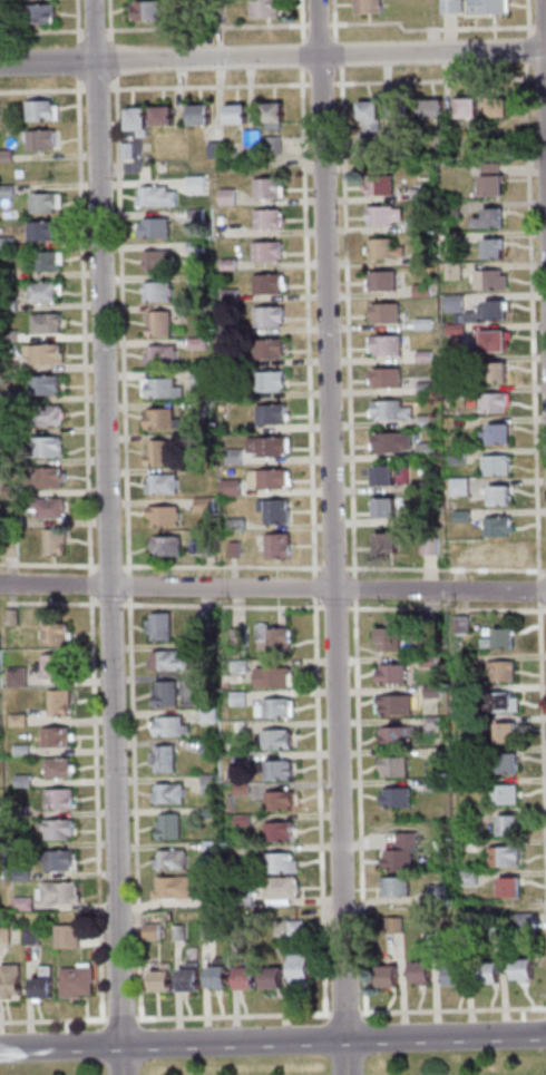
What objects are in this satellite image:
building: (1, 1)
building: (449, 6)
building: (368, 7)
building: (486, 7)
building: (262, 9)
building: (143, 10)
building: (38, 13)
building: (189, 14)
road: (299, 20)
road: (331, 20)
road: (72, 21)
road: (315, 25)
road: (203, 27)
road: (431, 28)
road: (40, 31)
road: (90, 31)
road: (300, 53)
road: (334, 53)
road: (272, 56)
road: (74, 59)
road: (113, 69)
road: (544, 70)
road: (339, 75)
road: (319, 84)
road: (334, 84)
road: (206, 86)
road: (40, 89)
road: (94, 89)
building: (465, 107)
building: (495, 107)
building: (430, 108)
building: (397, 109)
building: (39, 111)
building: (196, 114)
building: (233, 114)
building: (270, 115)
building: (369, 115)
building: (158, 116)
building: (134, 120)
building: (250, 137)
building: (36, 139)
building: (270, 145)
building: (389, 148)
building: (124, 150)
building: (213, 150)
building: (4, 156)
building: (489, 179)
building: (193, 184)
building: (379, 184)
building: (263, 187)
building: (6, 190)
building: (154, 196)
building: (224, 197)
building: (43, 202)
building: (448, 208)
building: (193, 213)
building: (384, 215)
building: (218, 218)
building: (264, 218)
building: (487, 218)
building: (150, 228)
building: (39, 231)
building: (6, 243)
building: (193, 246)
building: (384, 248)
building: (490, 248)
building: (264, 251)
building: (154, 260)
building: (43, 261)
building: (225, 264)
building: (450, 271)
building: (6, 274)
building: (193, 280)
building: (381, 280)
building: (487, 280)
building: (264, 284)
building: (42, 292)
building: (154, 292)
building: (226, 295)
building: (451, 303)
building: (7, 305)
building: (384, 312)
building: (482, 312)
building: (194, 314)
building: (265, 316)
building: (43, 323)
building: (156, 323)
road: (304, 323)
road: (80, 324)
road: (118, 326)
building: (227, 328)
building: (454, 330)
building: (7, 336)
building: (488, 341)
building: (194, 343)
building: (384, 344)
building: (266, 349)
building: (41, 353)
building: (157, 355)
building: (228, 360)
building: (8, 368)
building: (494, 372)
building: (384, 377)
building: (198, 379)
building: (267, 381)
building: (42, 384)
building: (157, 389)
building: (454, 391)
building: (3, 400)
building: (490, 402)
building: (201, 409)
building: (220, 409)
building: (389, 409)
building: (267, 414)
building: (46, 416)
building: (158, 420)
building: (7, 429)
building: (491, 434)
building: (391, 441)
building: (265, 446)
building: (42, 447)
building: (155, 453)
building: (231, 456)
building: (455, 456)
building: (8, 461)
building: (493, 465)
building: (383, 475)
building: (47, 477)
building: (265, 479)
building: (158, 483)
building: (456, 486)
building: (228, 487)
building: (8, 490)
building: (496, 496)
building: (202, 505)
building: (387, 506)
building: (46, 508)
building: (271, 510)
building: (162, 516)
building: (459, 516)
building: (9, 521)
building: (232, 524)
building: (495, 526)
road: (106, 537)
road: (330, 537)
building: (51, 541)
building: (387, 543)
building: (163, 546)
building: (274, 546)
building: (426, 546)
building: (8, 548)
building: (205, 548)
building: (231, 549)
building: (498, 554)
road: (47, 565)
road: (218, 566)
road: (106, 567)
road: (324, 568)
road: (87, 585)
road: (125, 586)
road: (273, 587)
road: (311, 587)
road: (1, 603)
road: (49, 604)
road: (107, 604)
road: (220, 606)
road: (326, 607)
building: (10, 618)
building: (203, 619)
building: (458, 625)
building: (156, 626)
building: (51, 634)
building: (387, 635)
building: (428, 635)
building: (235, 637)
building: (271, 638)
building: (497, 639)
building: (203, 647)
building: (165, 661)
building: (425, 661)
building: (460, 661)
building: (236, 665)
building: (51, 666)
building: (498, 671)
building: (389, 674)
building: (14, 677)
building: (269, 678)
building: (429, 692)
building: (461, 693)
building: (162, 694)
building: (235, 698)
building: (497, 702)
building: (56, 703)
building: (392, 705)
building: (270, 708)
building: (205, 715)
building: (16, 721)
building: (430, 722)
building: (166, 727)
building: (503, 733)
building: (393, 735)
building: (51, 737)
building: (273, 740)
building: (204, 747)
building: (19, 751)
building: (464, 752)
building: (159, 759)
building: (238, 760)
building: (504, 763)
building: (391, 766)
building: (55, 769)
building: (275, 771)
building: (20, 781)
building: (432, 784)
building: (464, 784)
building: (206, 785)
building: (238, 790)
building: (165, 793)
building: (500, 794)
building: (393, 798)
building: (56, 799)
building: (275, 801)
road: (316, 805)
road: (92, 807)
road: (131, 807)
building: (20, 811)
building: (207, 812)
building: (465, 814)
building: (240, 820)
building: (506, 825)
building: (165, 827)
building: (55, 830)
building: (275, 831)
building: (403, 841)
building: (466, 846)
building: (207, 847)
building: (501, 857)
building: (394, 860)
building: (58, 861)
building: (167, 861)
building: (277, 863)
building: (19, 874)
building: (467, 878)
building: (392, 887)
building: (169, 888)
building: (279, 888)
building: (507, 888)
building: (435, 892)
building: (57, 893)
building: (242, 895)
building: (208, 898)
building: (20, 903)
building: (521, 921)
building: (426, 923)
building: (493, 923)
building: (391, 925)
building: (459, 925)
building: (292, 928)
building: (148, 931)
building: (232, 931)
building: (204, 932)
building: (250, 932)
building: (176, 934)
building: (3, 936)
building: (28, 936)
building: (65, 936)
building: (520, 969)
building: (295, 971)
building: (418, 973)
building: (485, 974)
building: (214, 975)
building: (451, 975)
building: (241, 977)
building: (384, 977)
building: (185, 978)
building: (157, 979)
building: (267, 979)
building: (8, 980)
building: (74, 983)
building: (40, 985)
road: (450, 1009)
road: (340, 1014)
road: (228, 1016)
road: (117, 1019)
road: (51, 1020)
road: (273, 1042)

